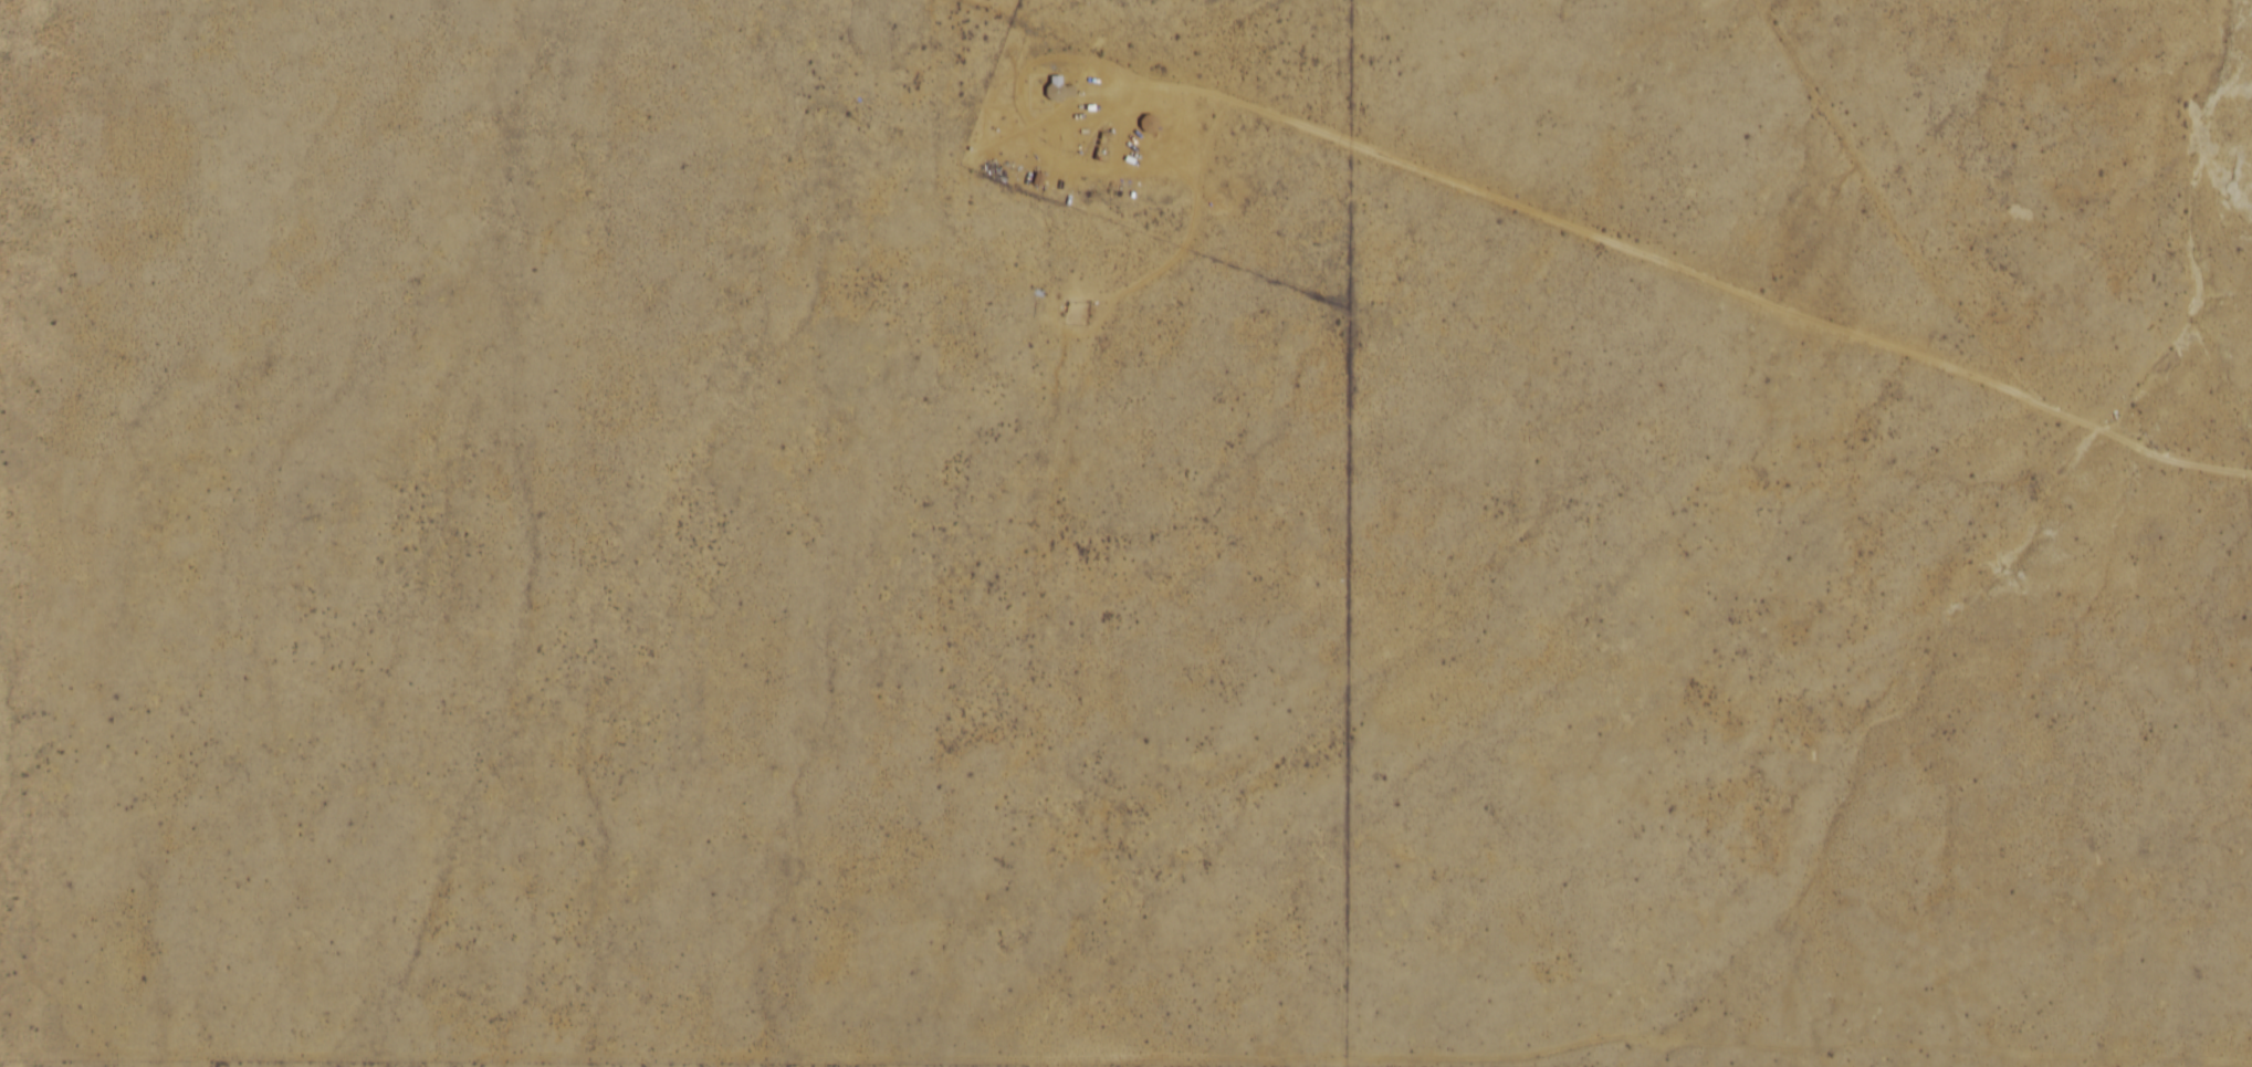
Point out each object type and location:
building: (1057, 93)

